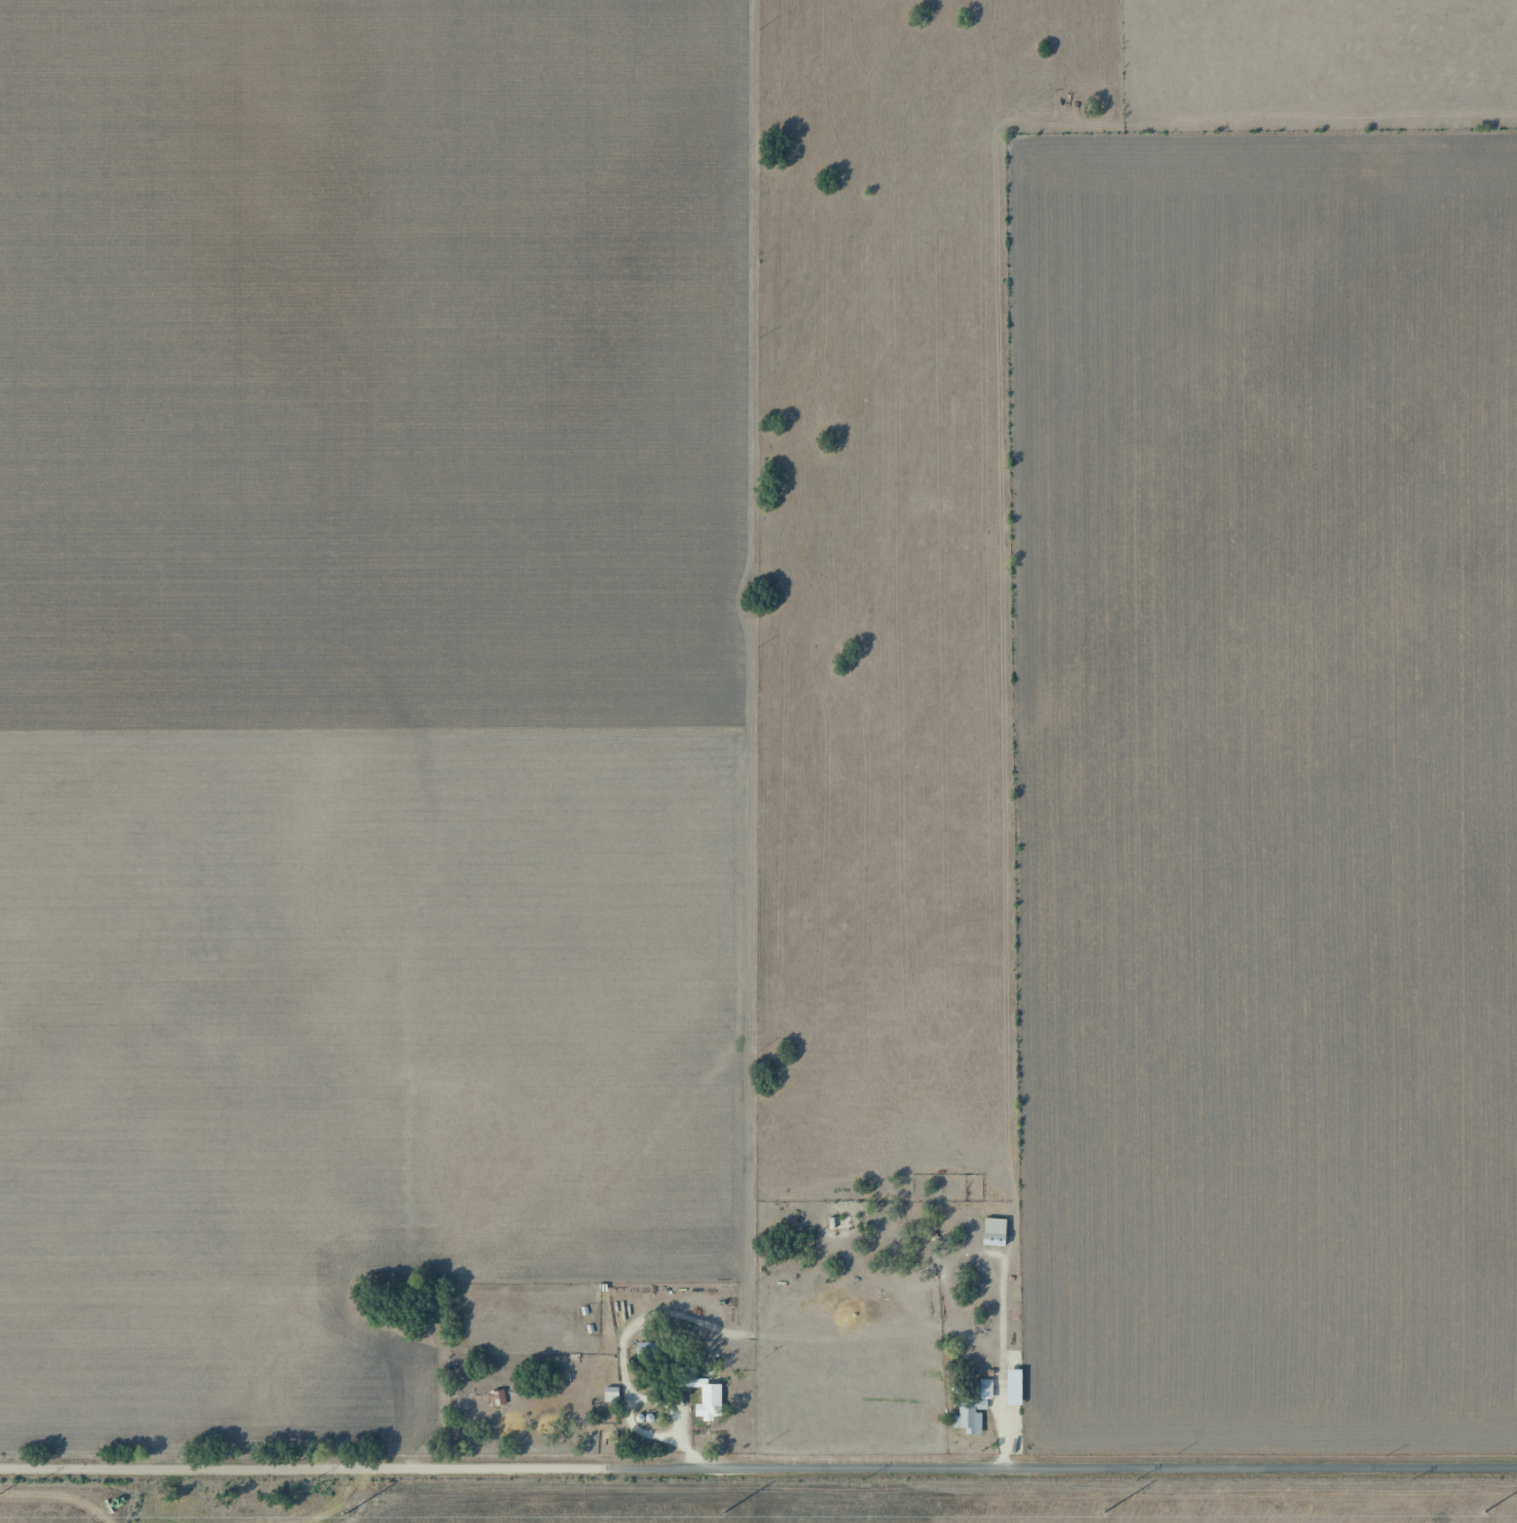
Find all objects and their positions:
building: (999, 1233)
building: (986, 1389)
building: (496, 1399)
building: (709, 1403)
building: (969, 1419)
road: (758, 1468)
power tower: (309, 1480)
power tower: (587, 1480)
power tower: (859, 1480)
power tower: (1135, 1480)
power tower: (1411, 1480)
power tower: (35, 1481)
power tower: (1104, 1511)
power tower: (725, 1512)
power tower: (1485, 1512)
power tower: (344, 1513)

